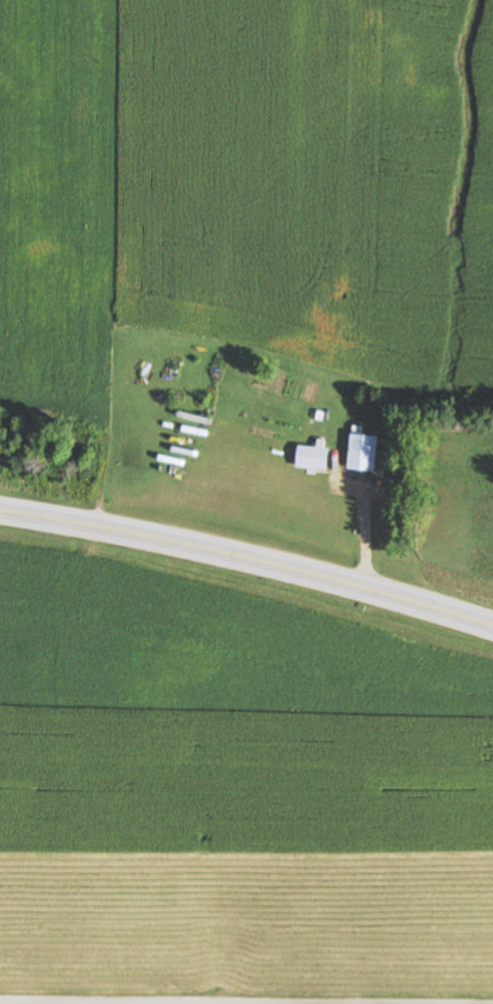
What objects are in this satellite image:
building: (364, 454)
building: (314, 458)
road: (249, 553)
road: (24, 1003)

